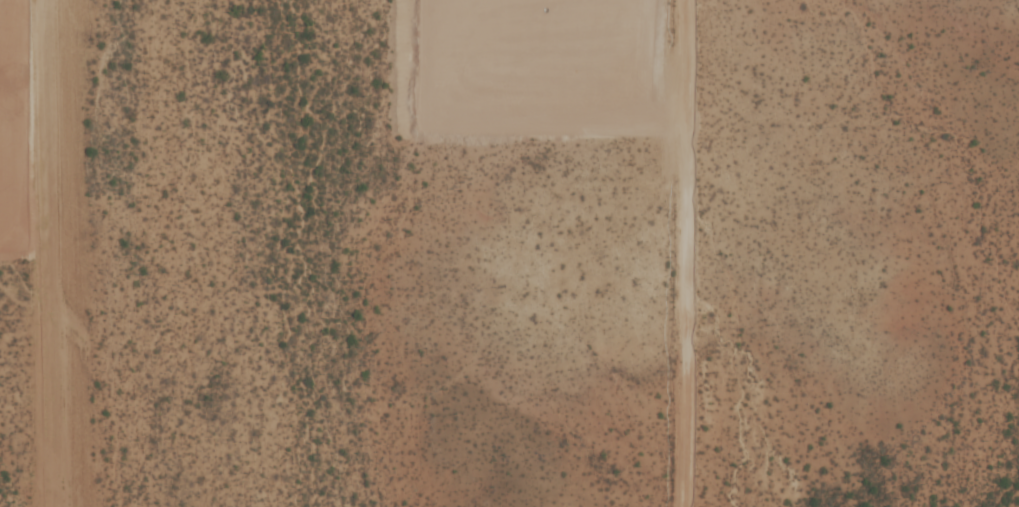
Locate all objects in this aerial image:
petroleum well: (541, 7)
road: (678, 253)

